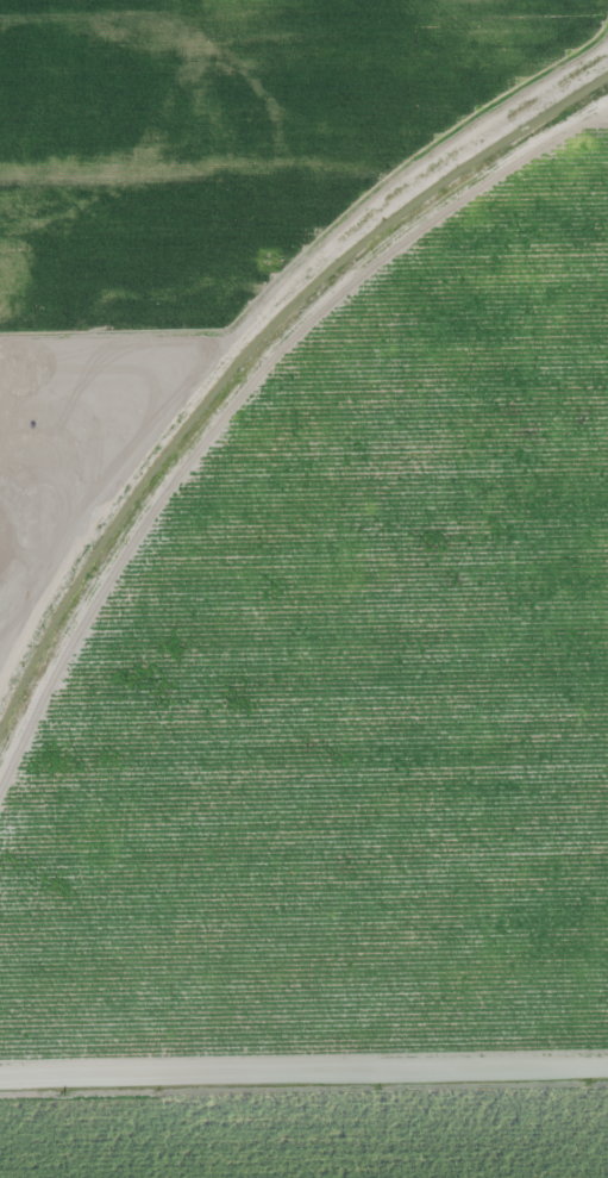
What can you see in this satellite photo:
railway: (244, 389)
road: (303, 1074)

